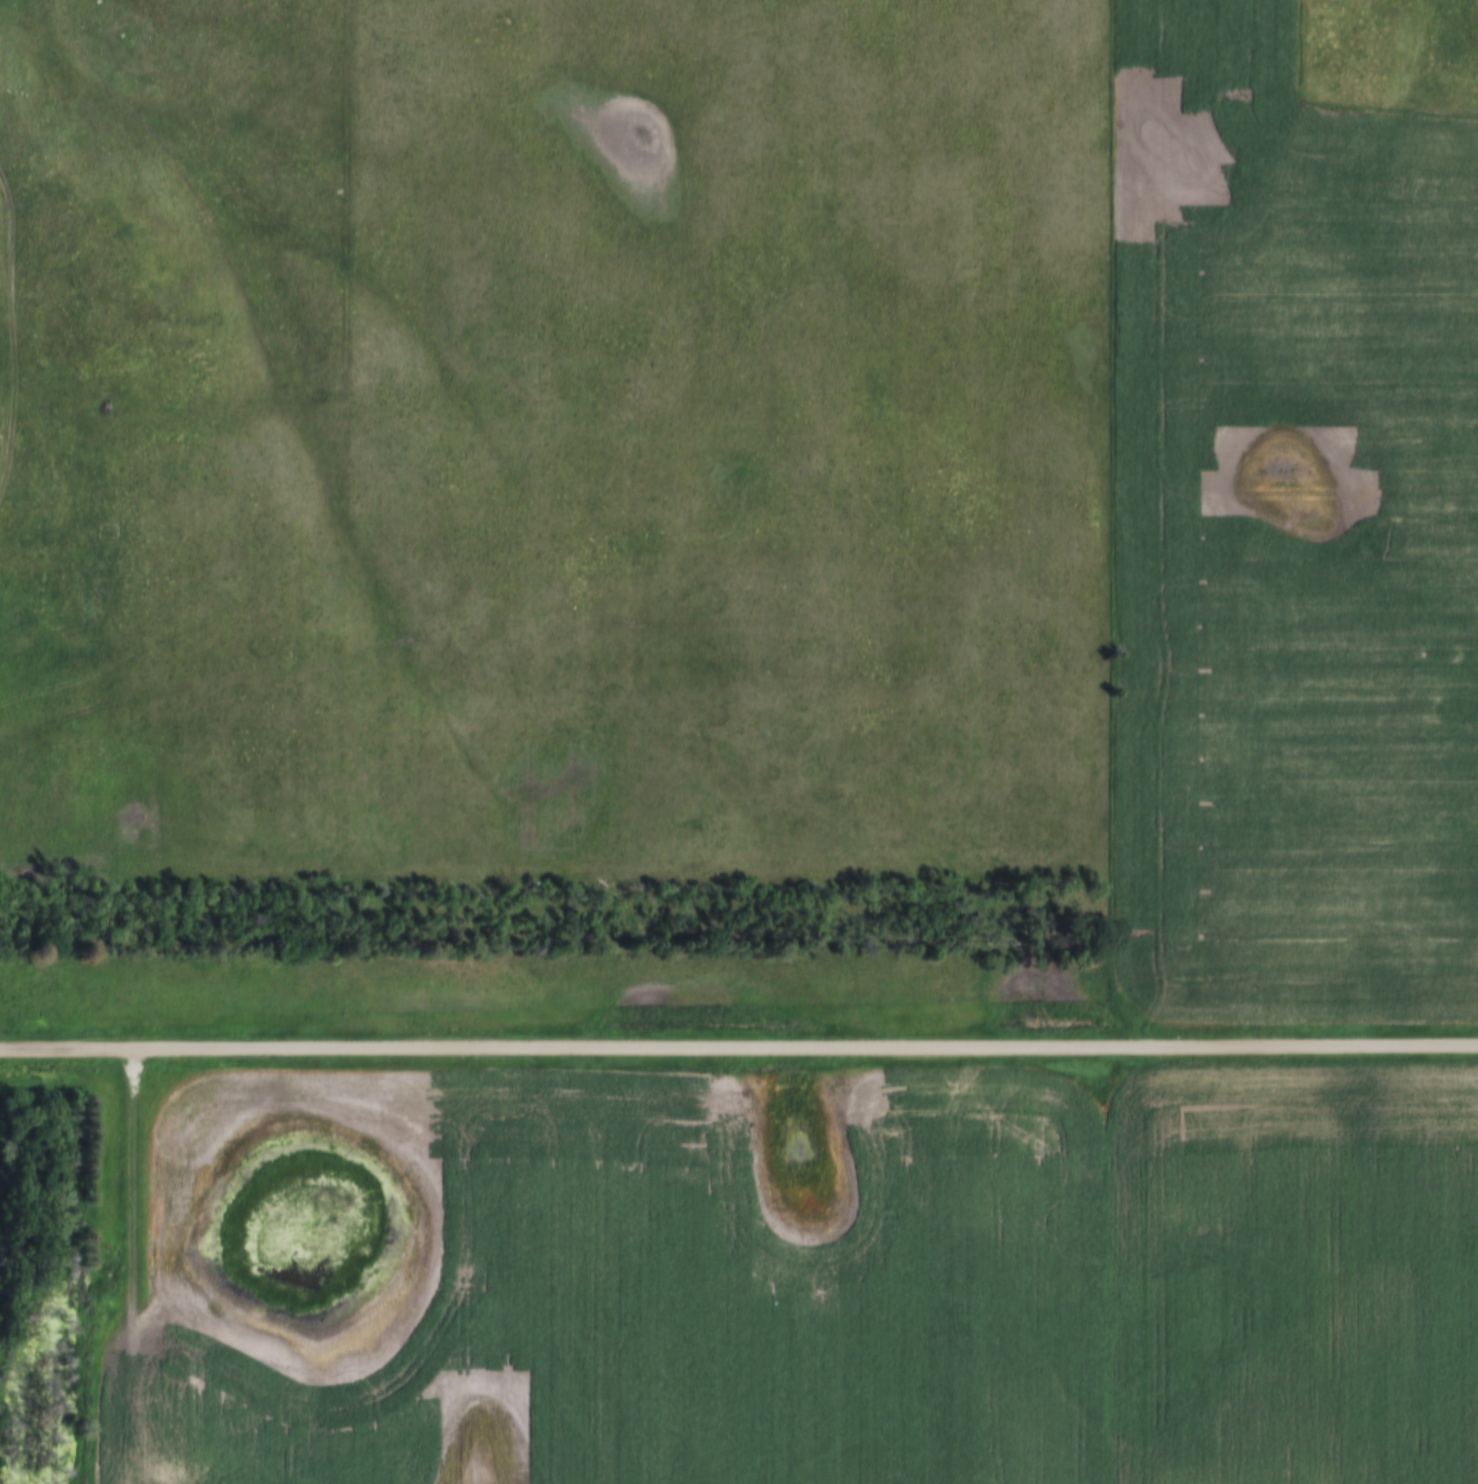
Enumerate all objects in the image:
road: (739, 1047)

